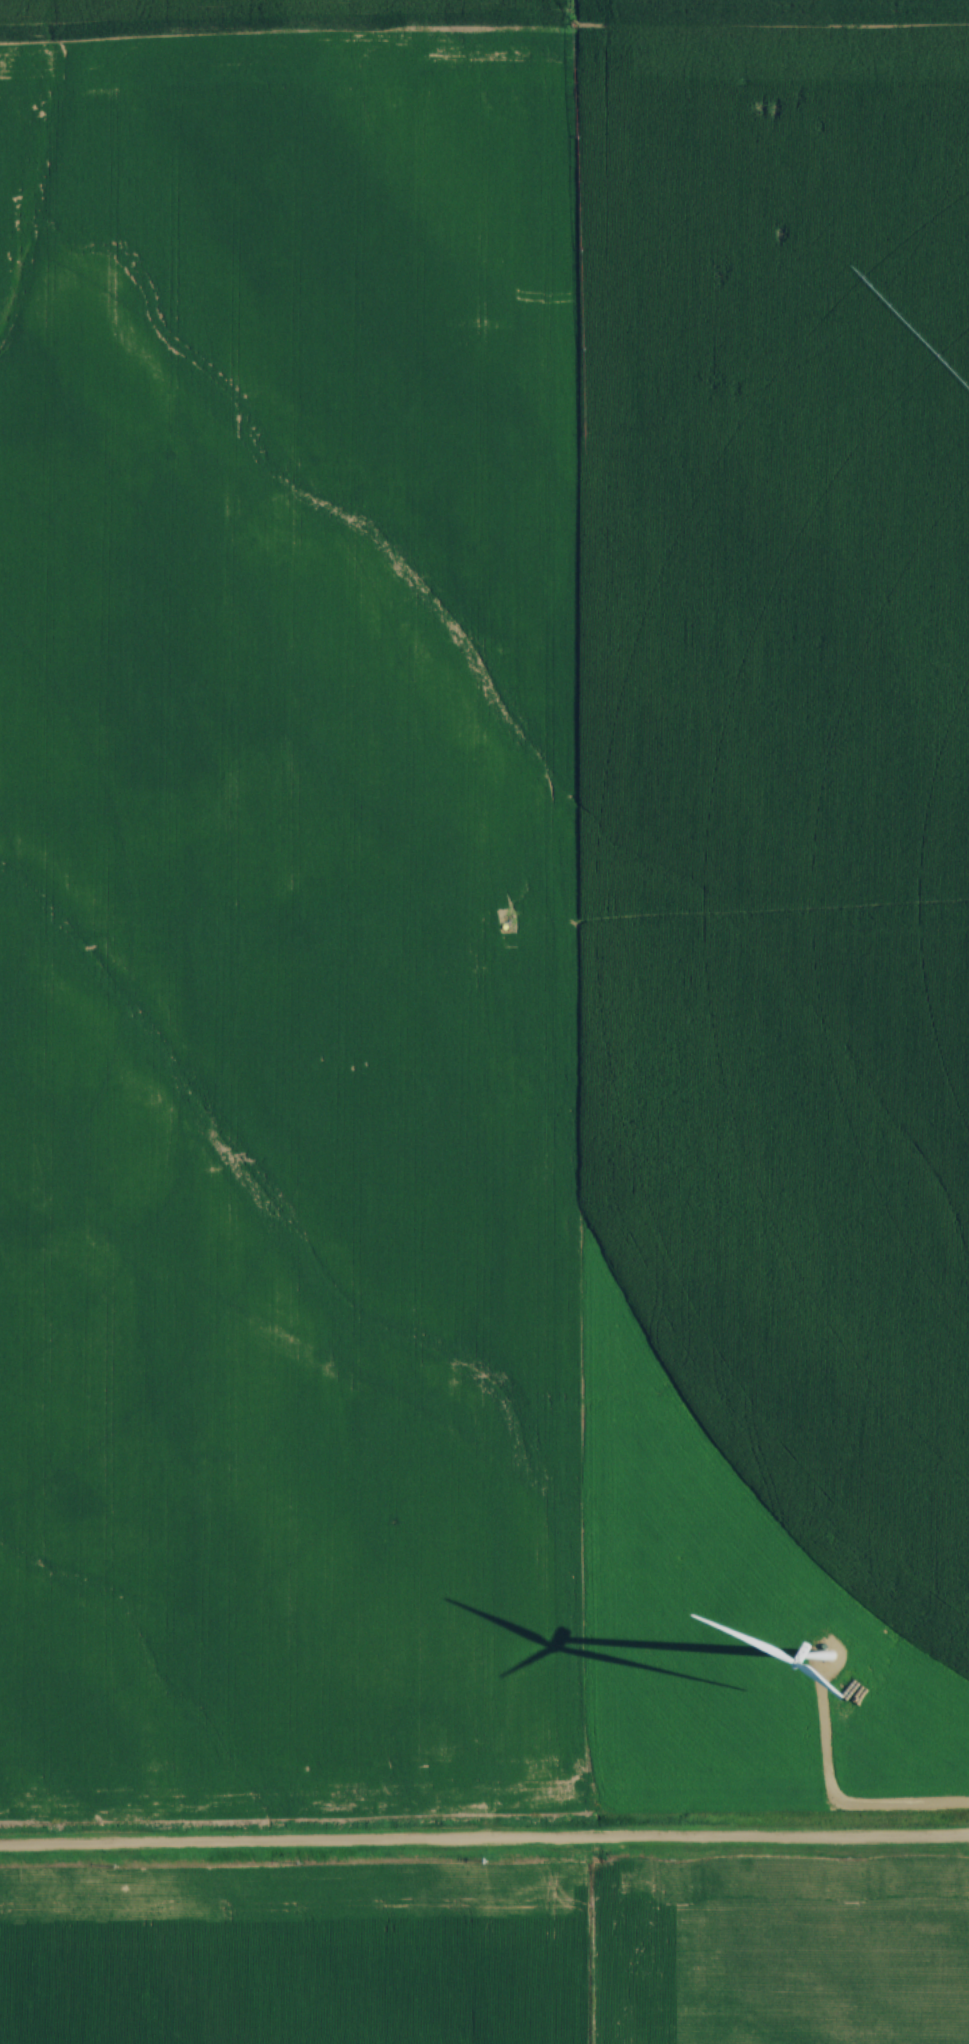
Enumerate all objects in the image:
wind turbine: (832, 1653)
road: (484, 1844)

